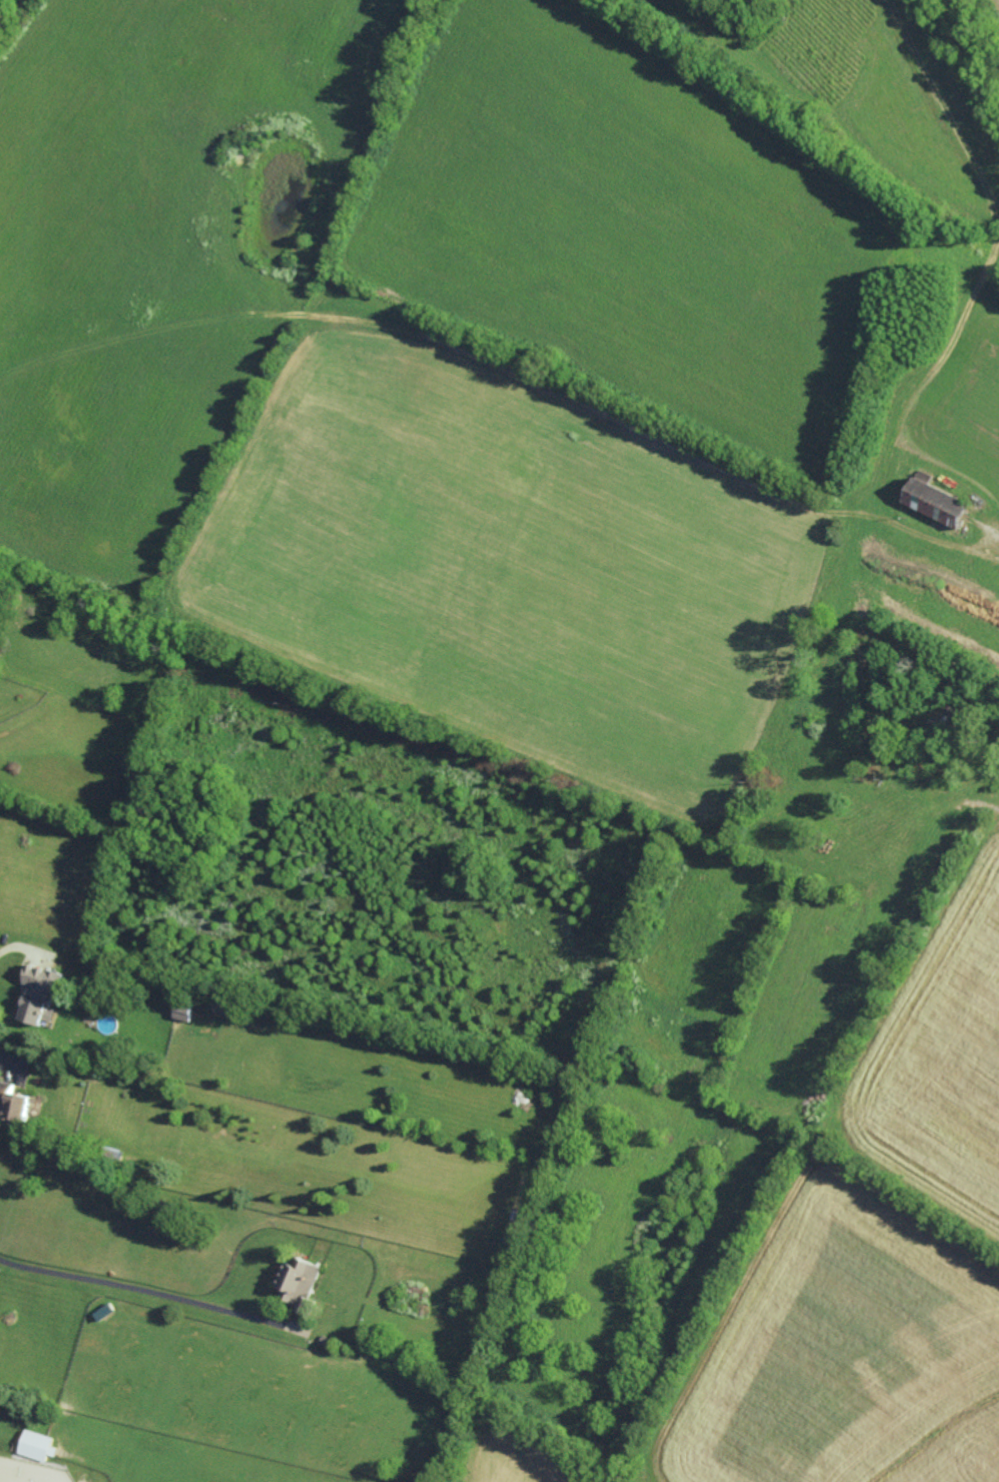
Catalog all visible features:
road: (13, 18)
road: (3, 25)
road: (509, 369)
building: (938, 501)
road: (6, 971)
building: (40, 994)
building: (181, 1011)
road: (0, 1063)
building: (13, 1102)
building: (299, 1281)
road: (145, 1290)
building: (35, 1445)

